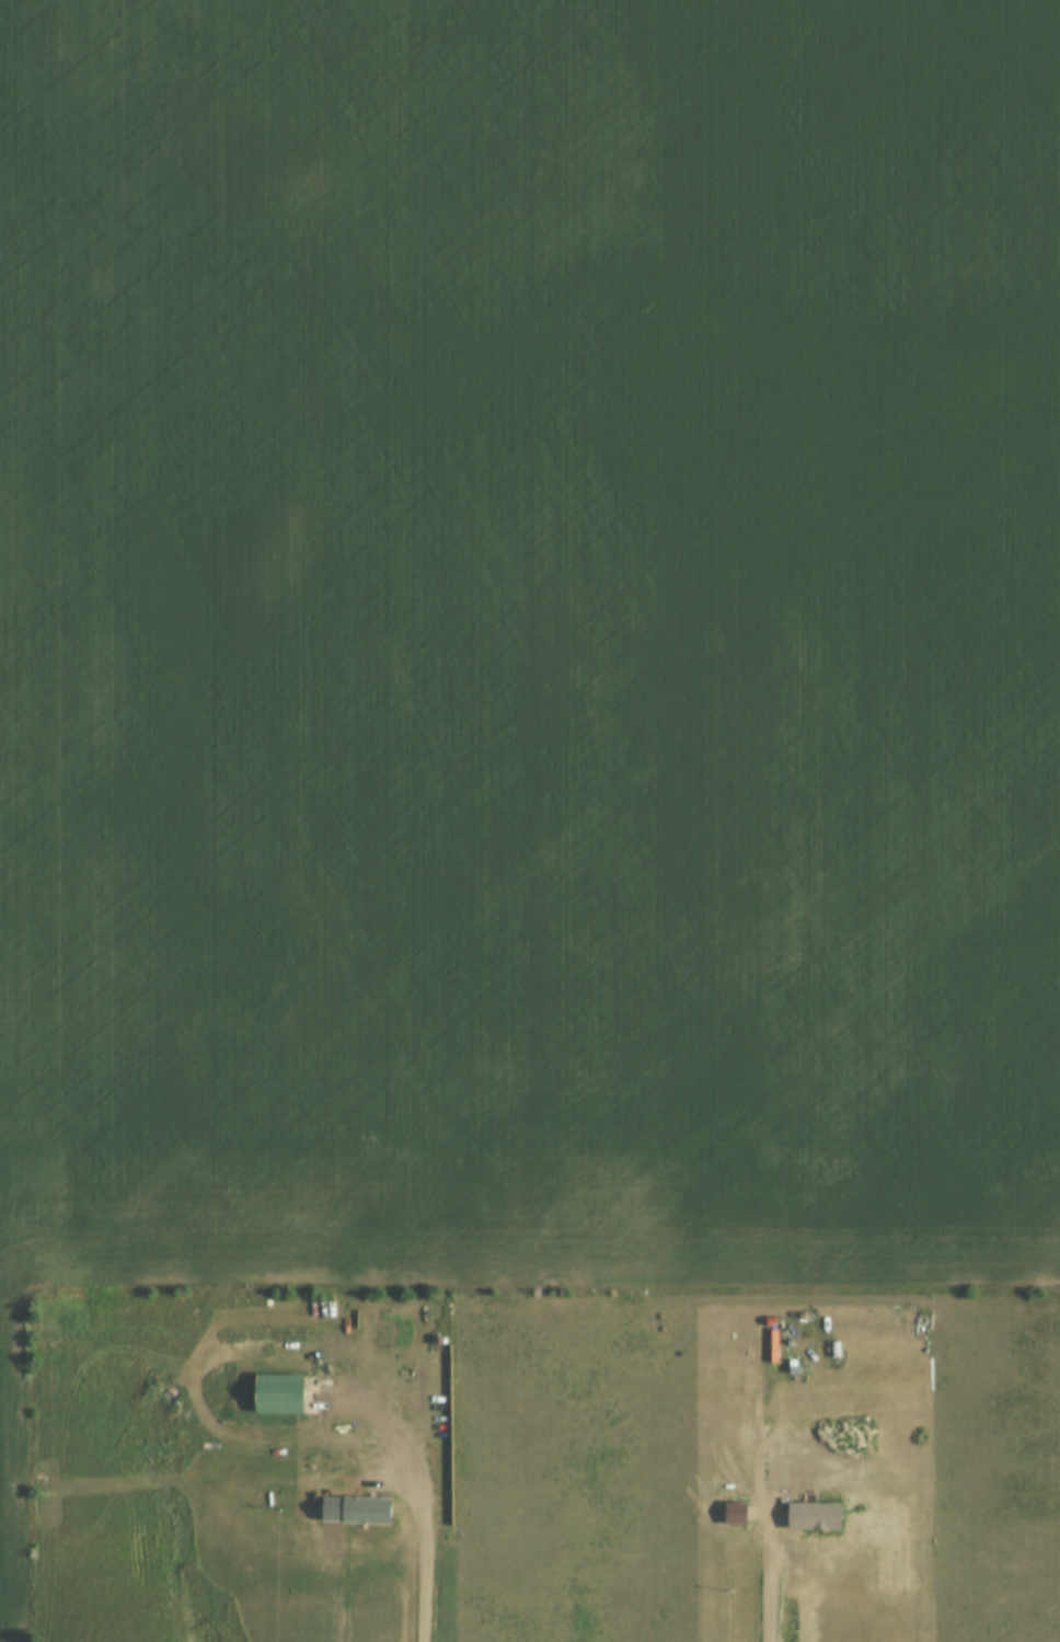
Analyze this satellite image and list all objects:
building: (353, 1507)

